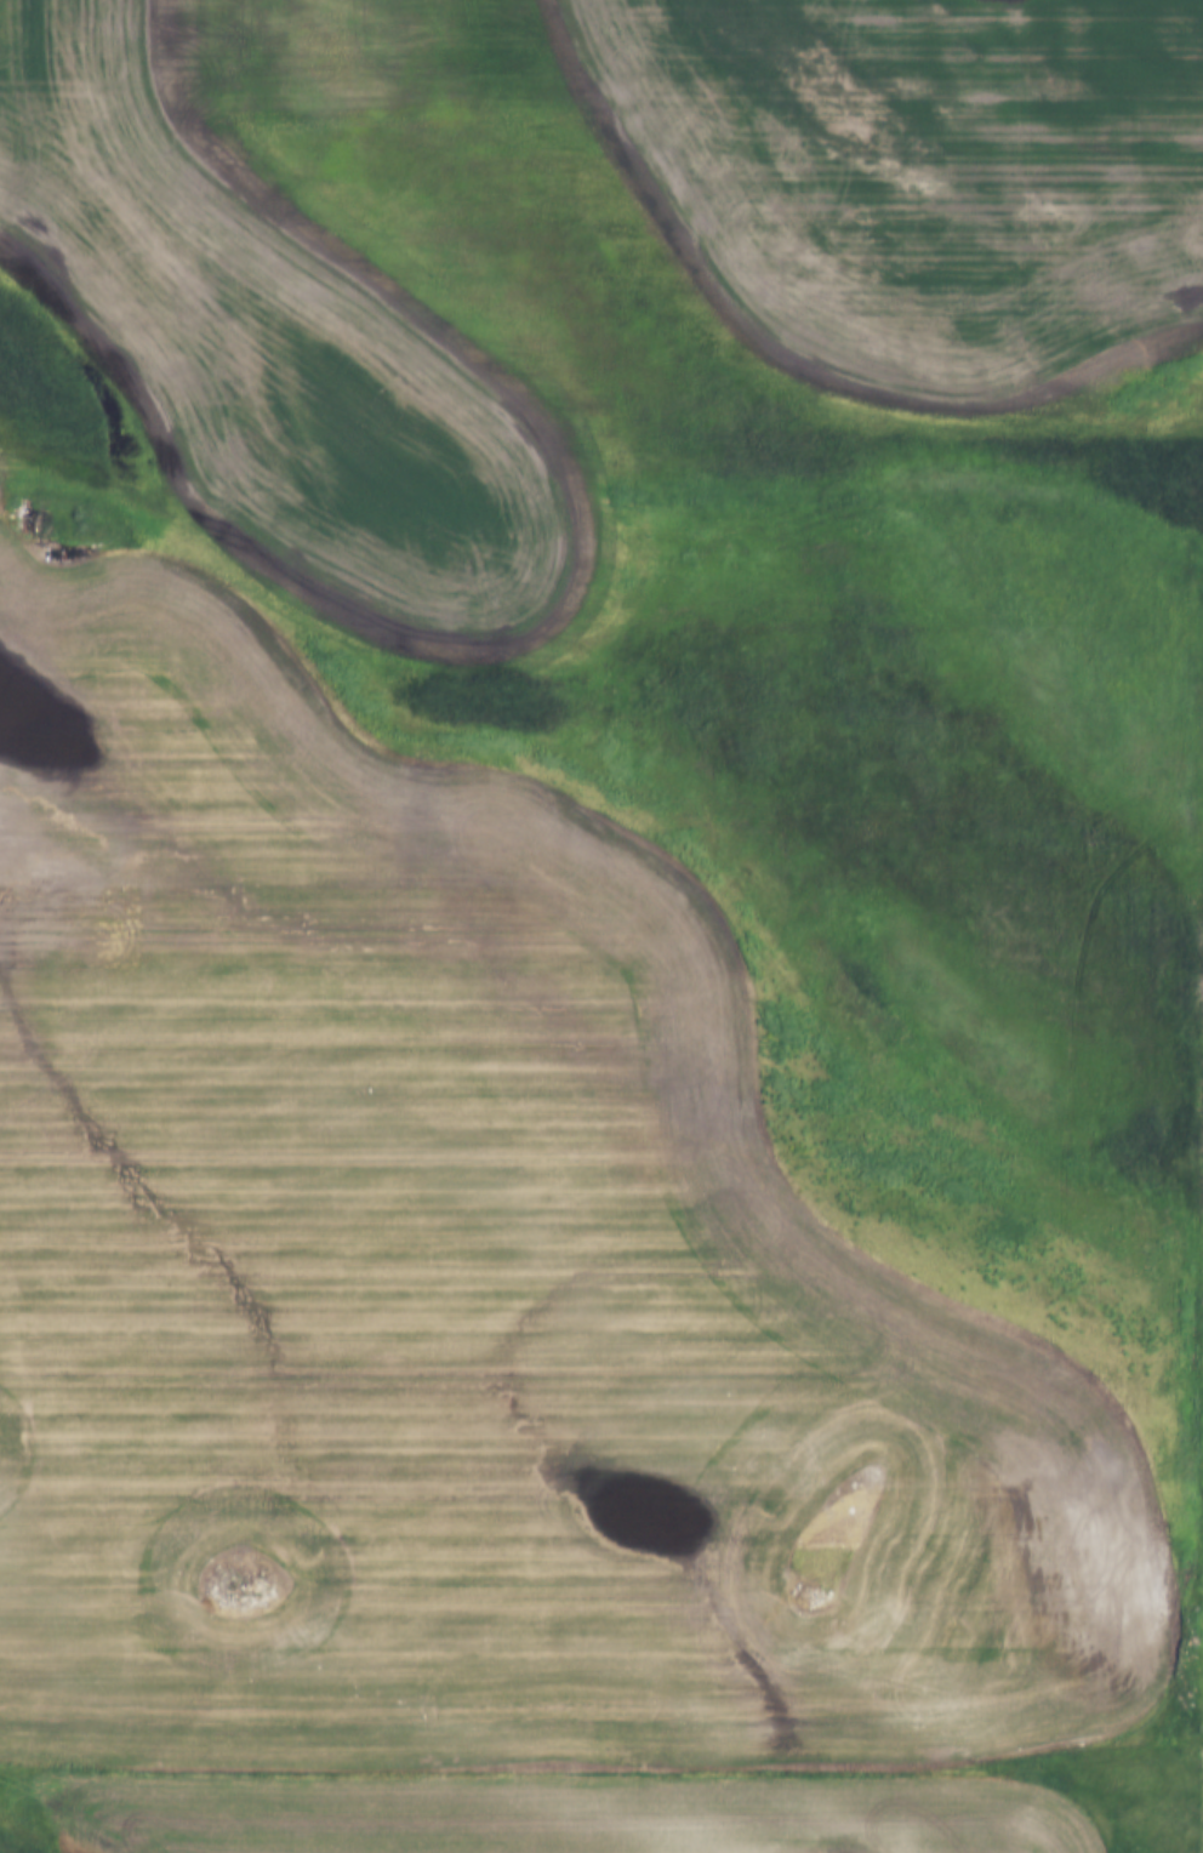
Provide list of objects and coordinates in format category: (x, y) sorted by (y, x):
road: (600, 1758)

